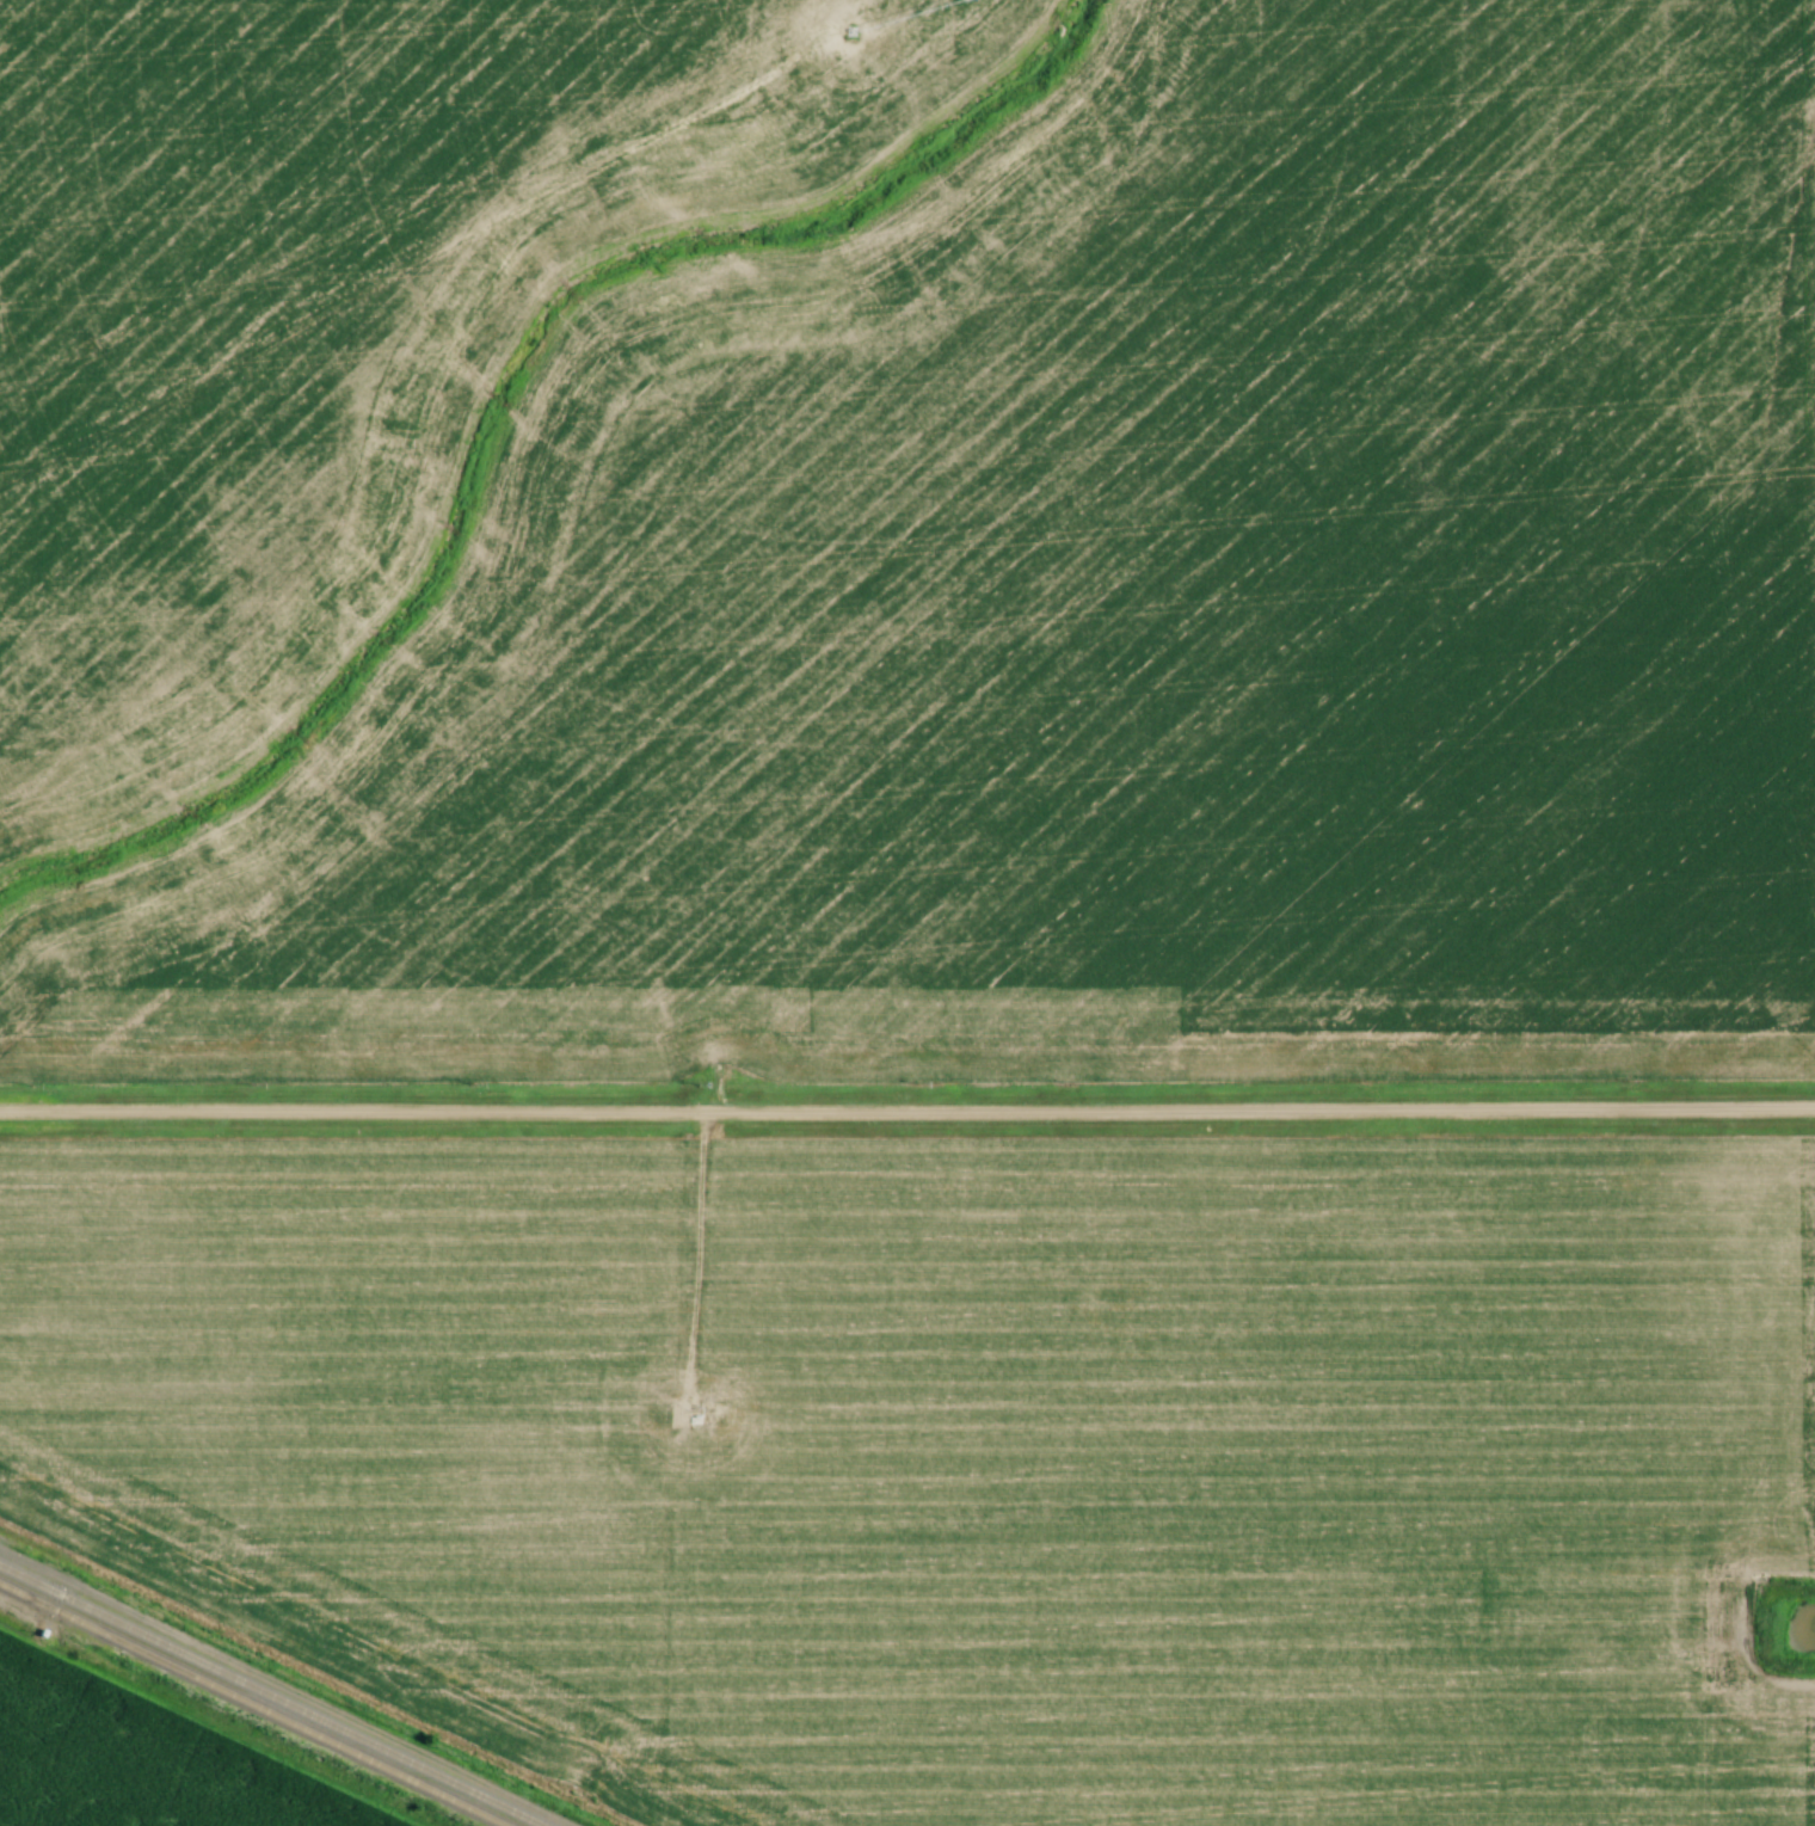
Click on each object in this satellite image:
road: (907, 1112)
crop: (962, 1464)
railway: (273, 1695)
railway: (250, 1705)
crop: (124, 1765)

